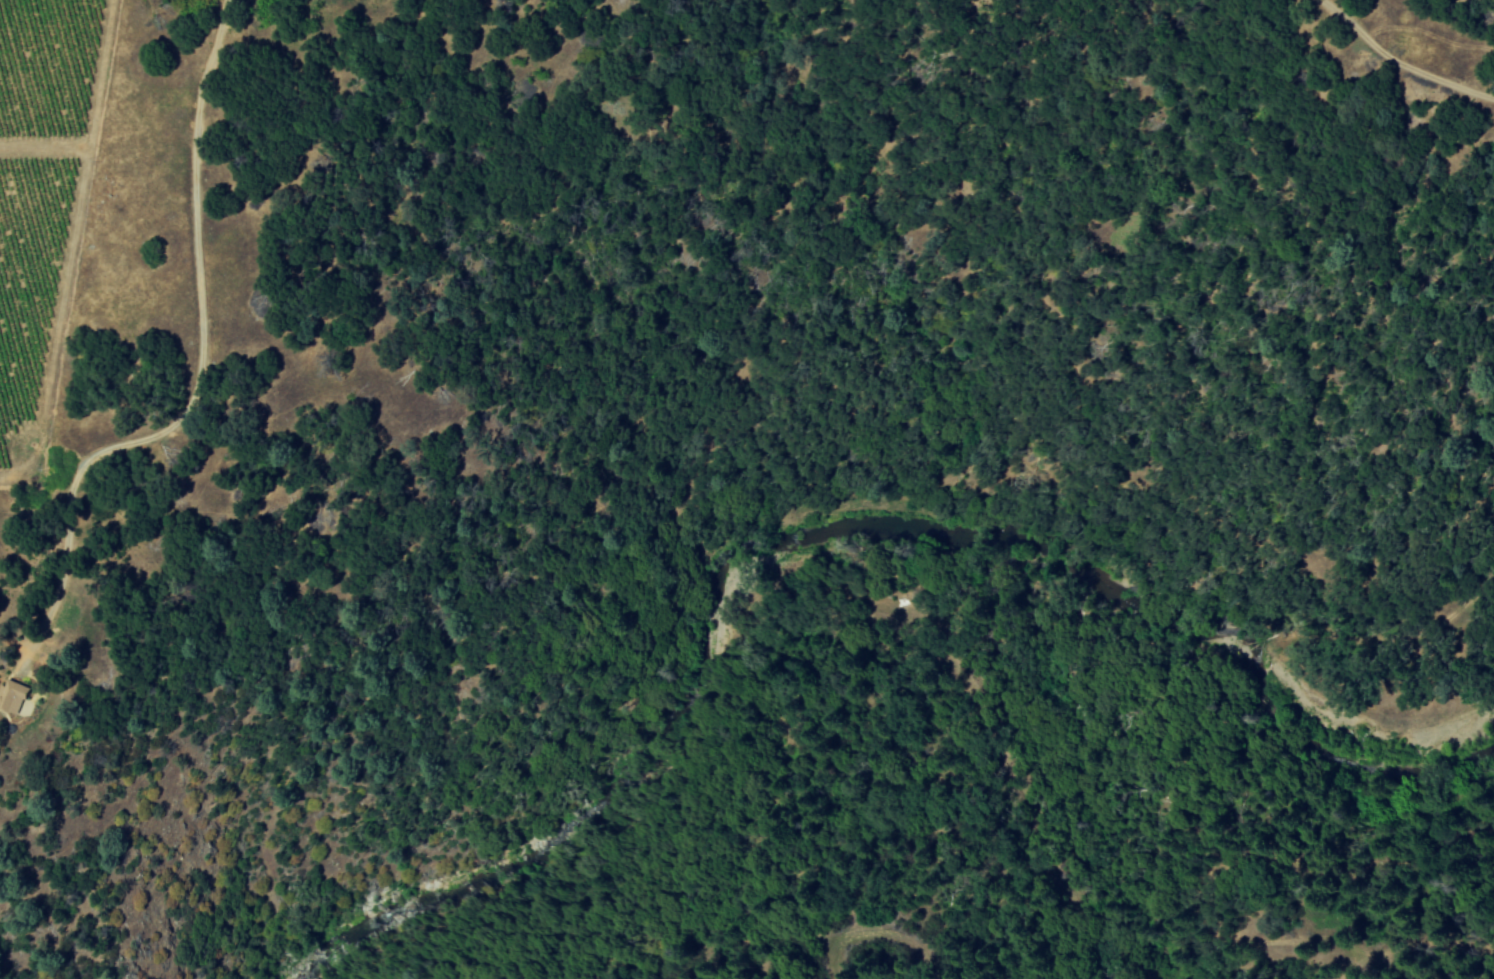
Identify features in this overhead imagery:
road: (1398, 63)
crop: (36, 176)
road: (197, 372)
river: (853, 550)
building: (13, 696)

